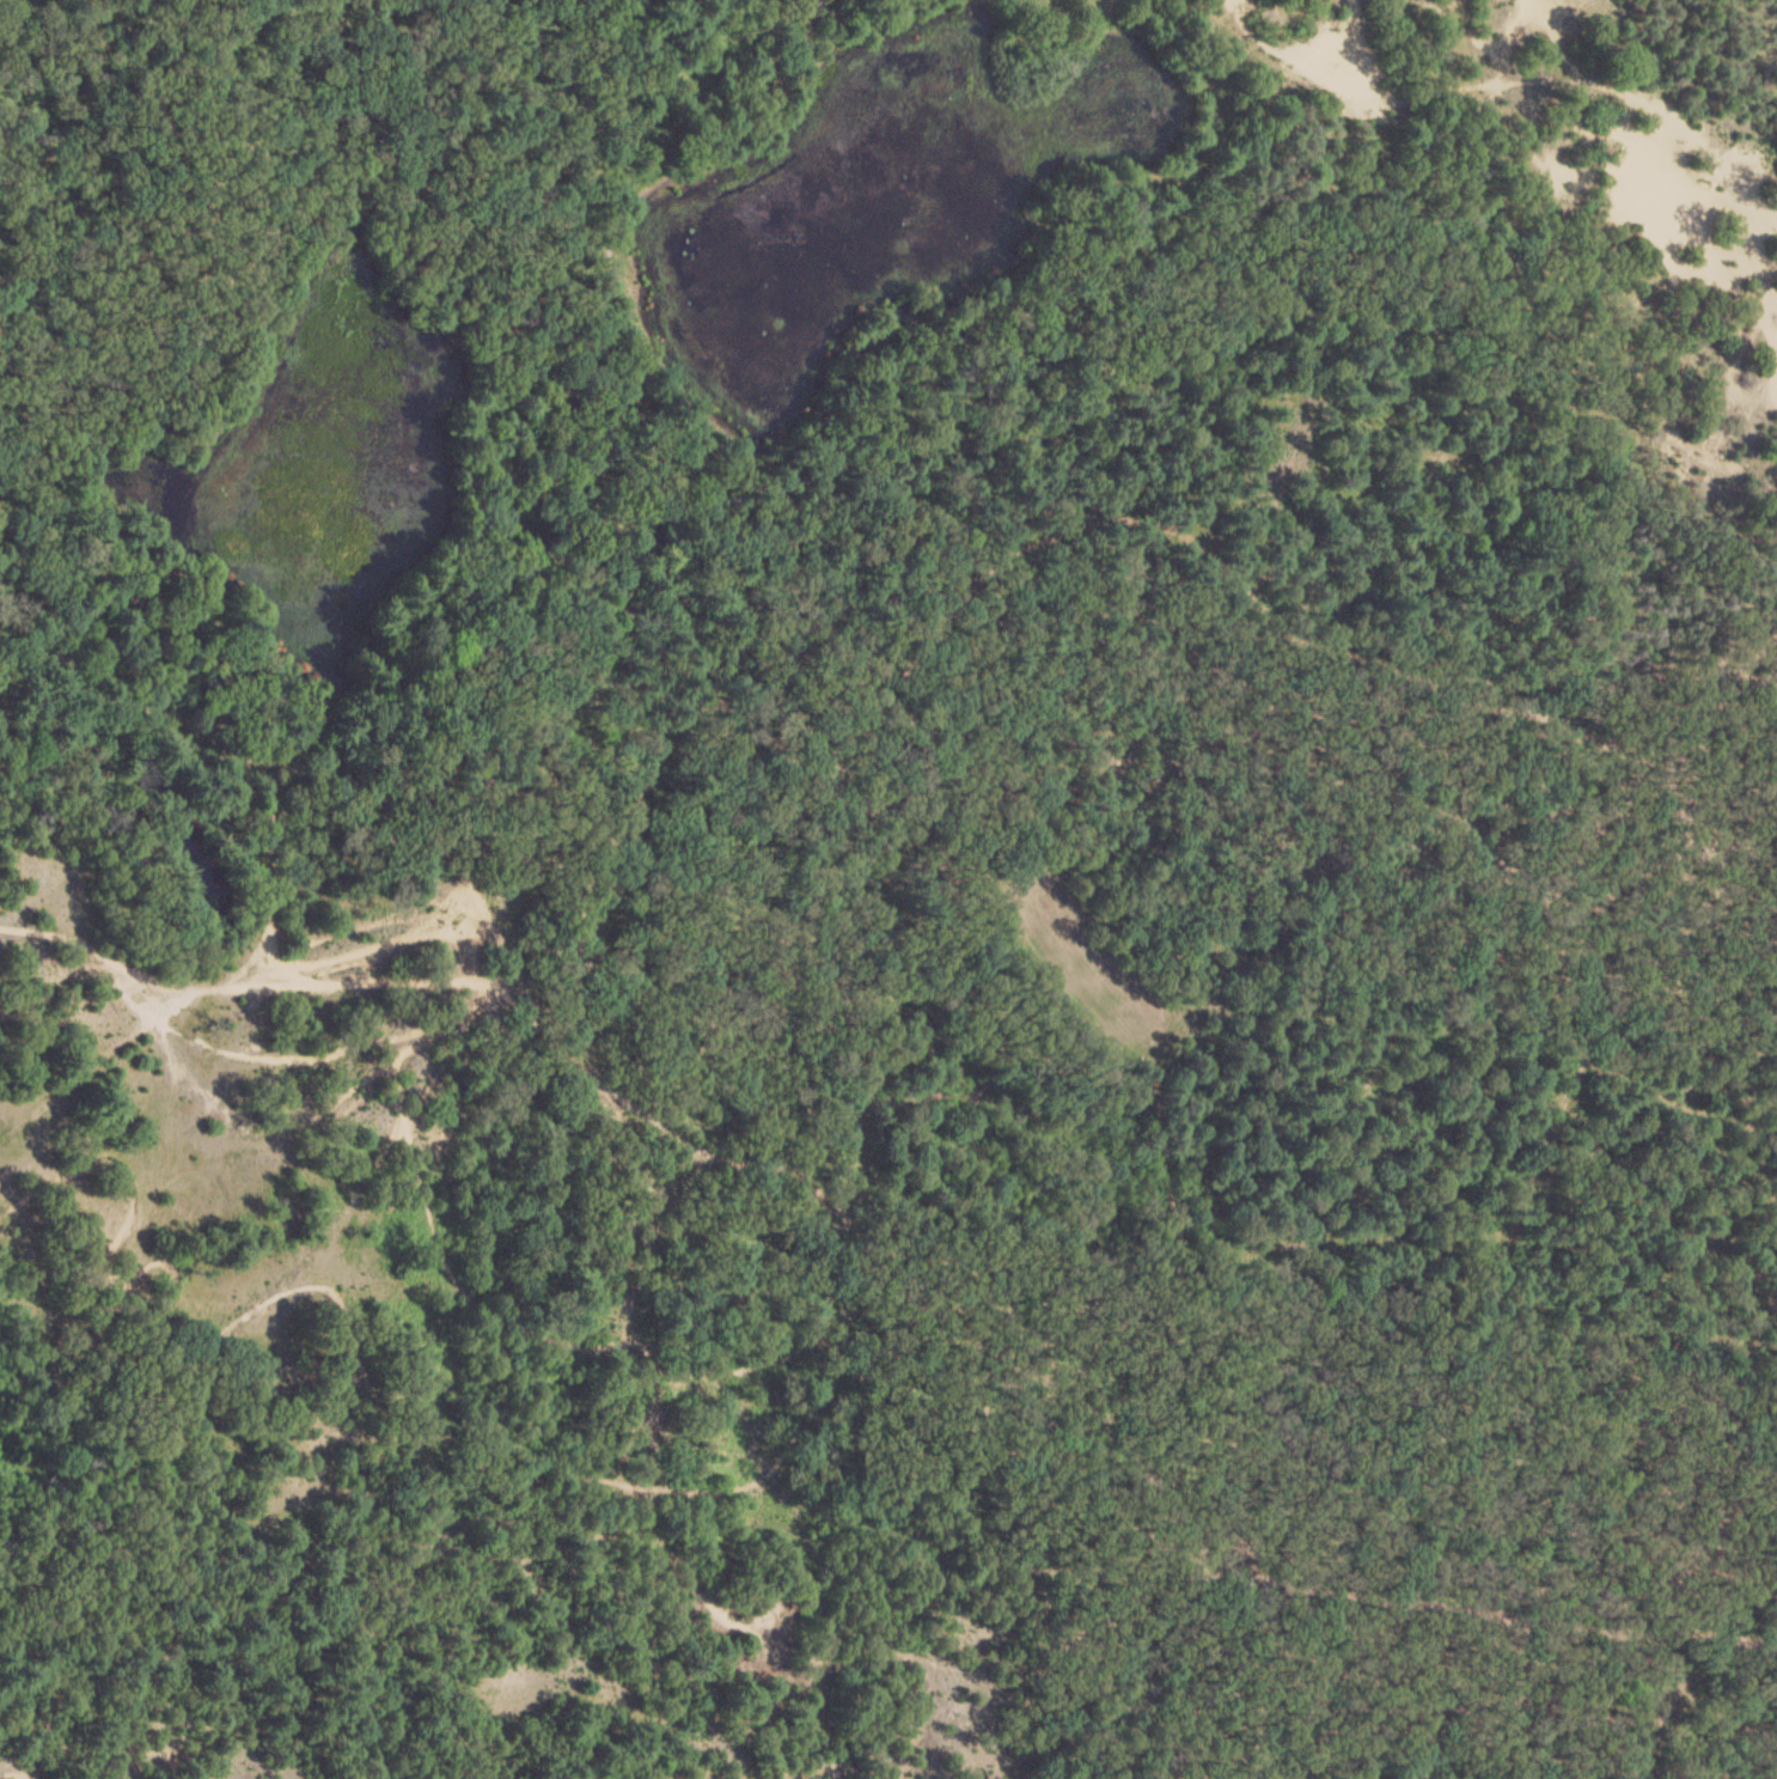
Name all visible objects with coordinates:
road: (890, 1528)

